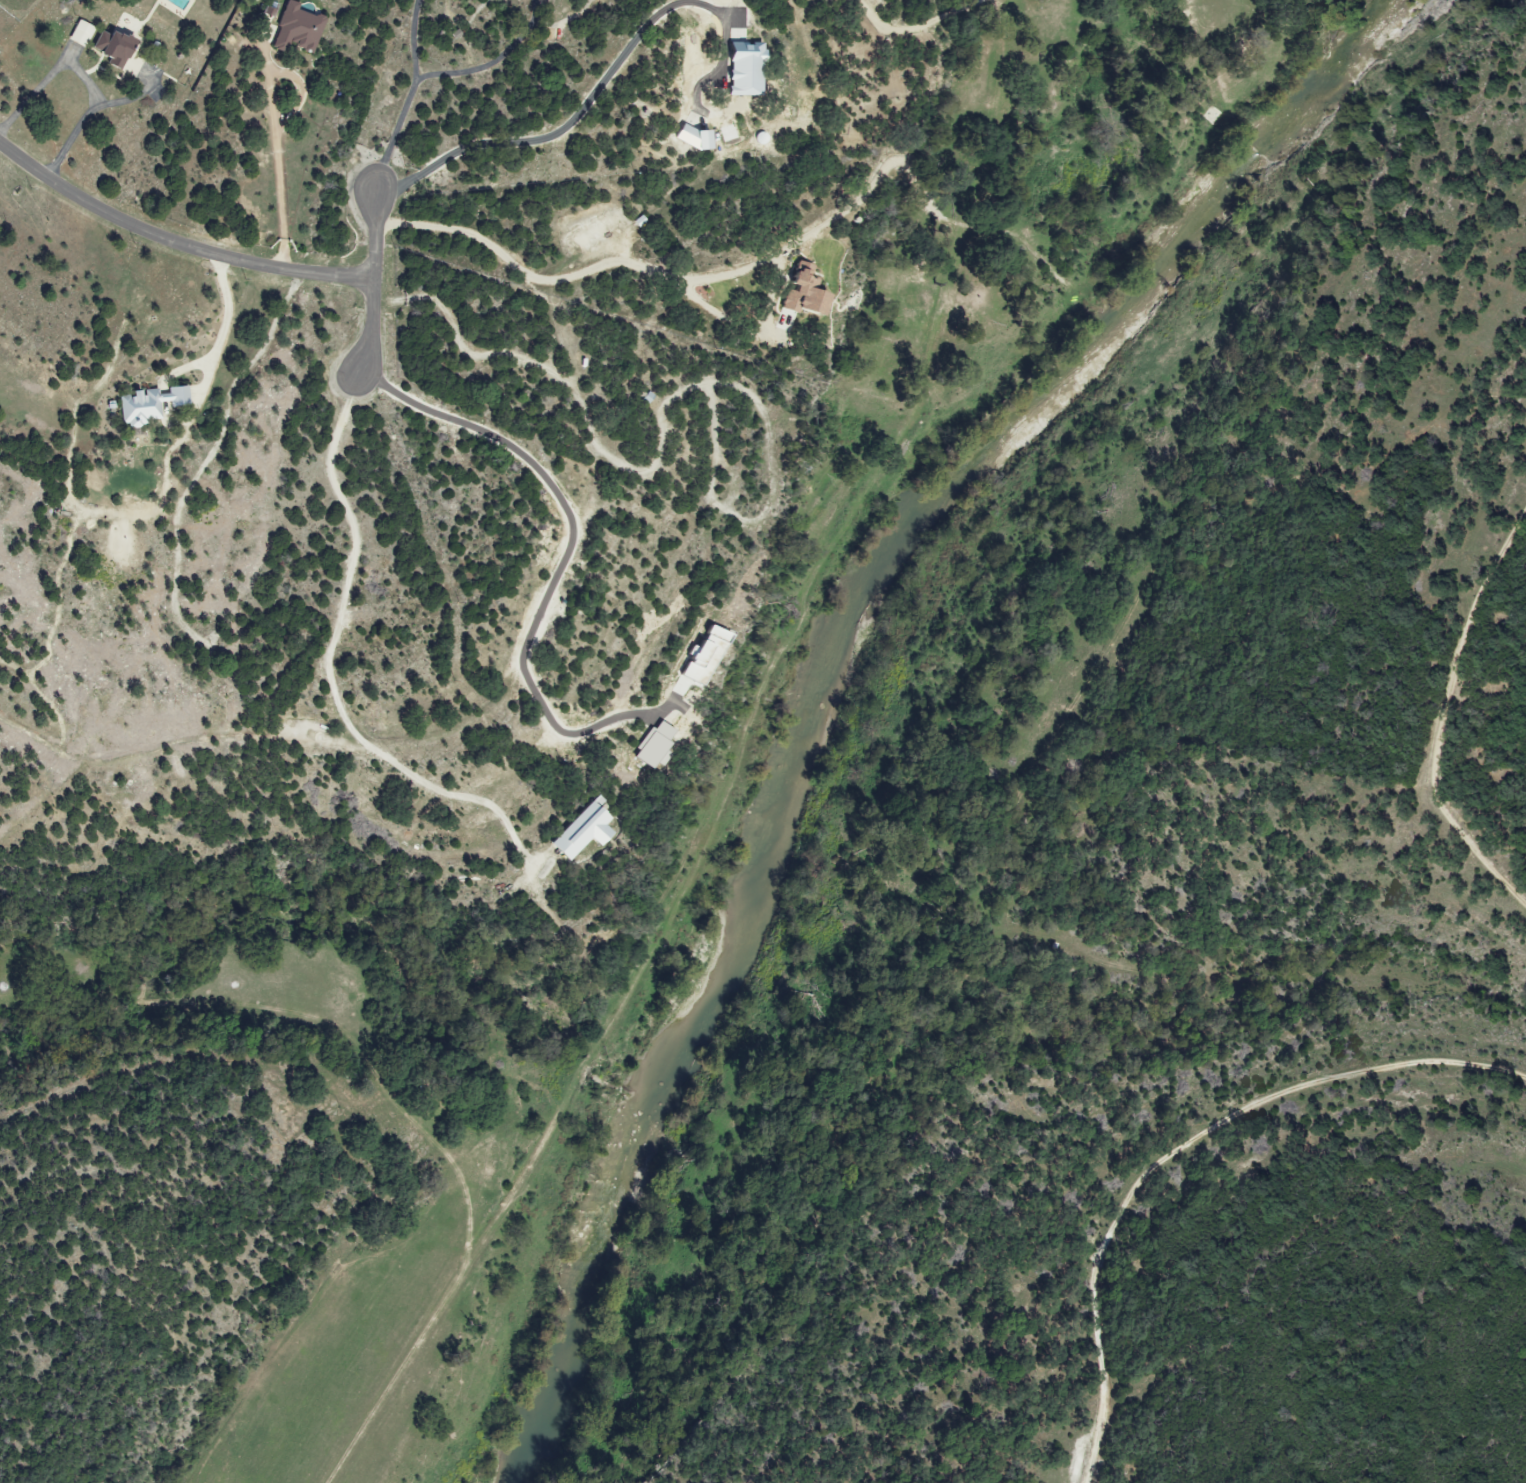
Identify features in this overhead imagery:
building: (294, 30)
building: (80, 34)
road: (412, 40)
building: (110, 48)
road: (494, 63)
building: (741, 69)
road: (84, 82)
road: (586, 103)
road: (394, 135)
road: (174, 244)
road: (645, 269)
road: (371, 285)
building: (801, 292)
road: (227, 321)
road: (550, 371)
building: (148, 404)
road: (570, 549)
building: (700, 656)
road: (331, 662)
river: (828, 668)
road: (567, 734)
building: (651, 744)
building: (579, 832)

